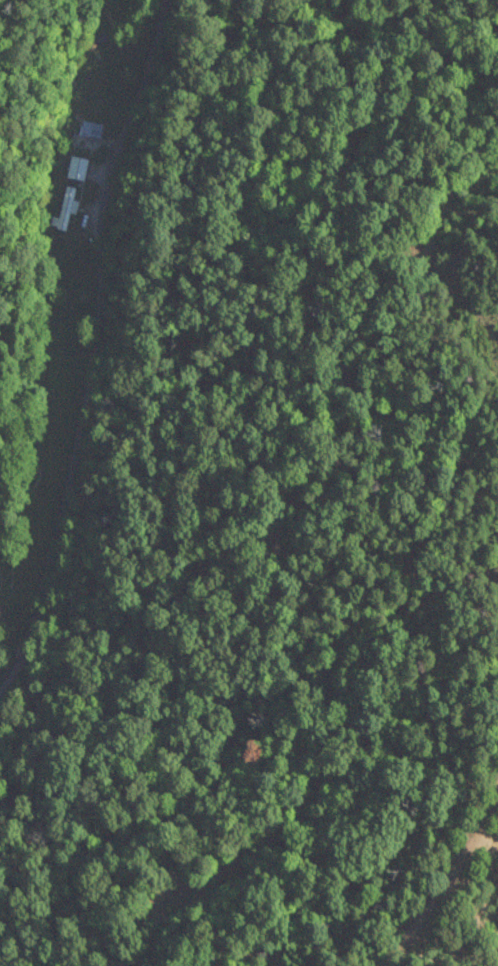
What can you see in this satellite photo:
building: (93, 130)
building: (67, 209)
road: (96, 351)

